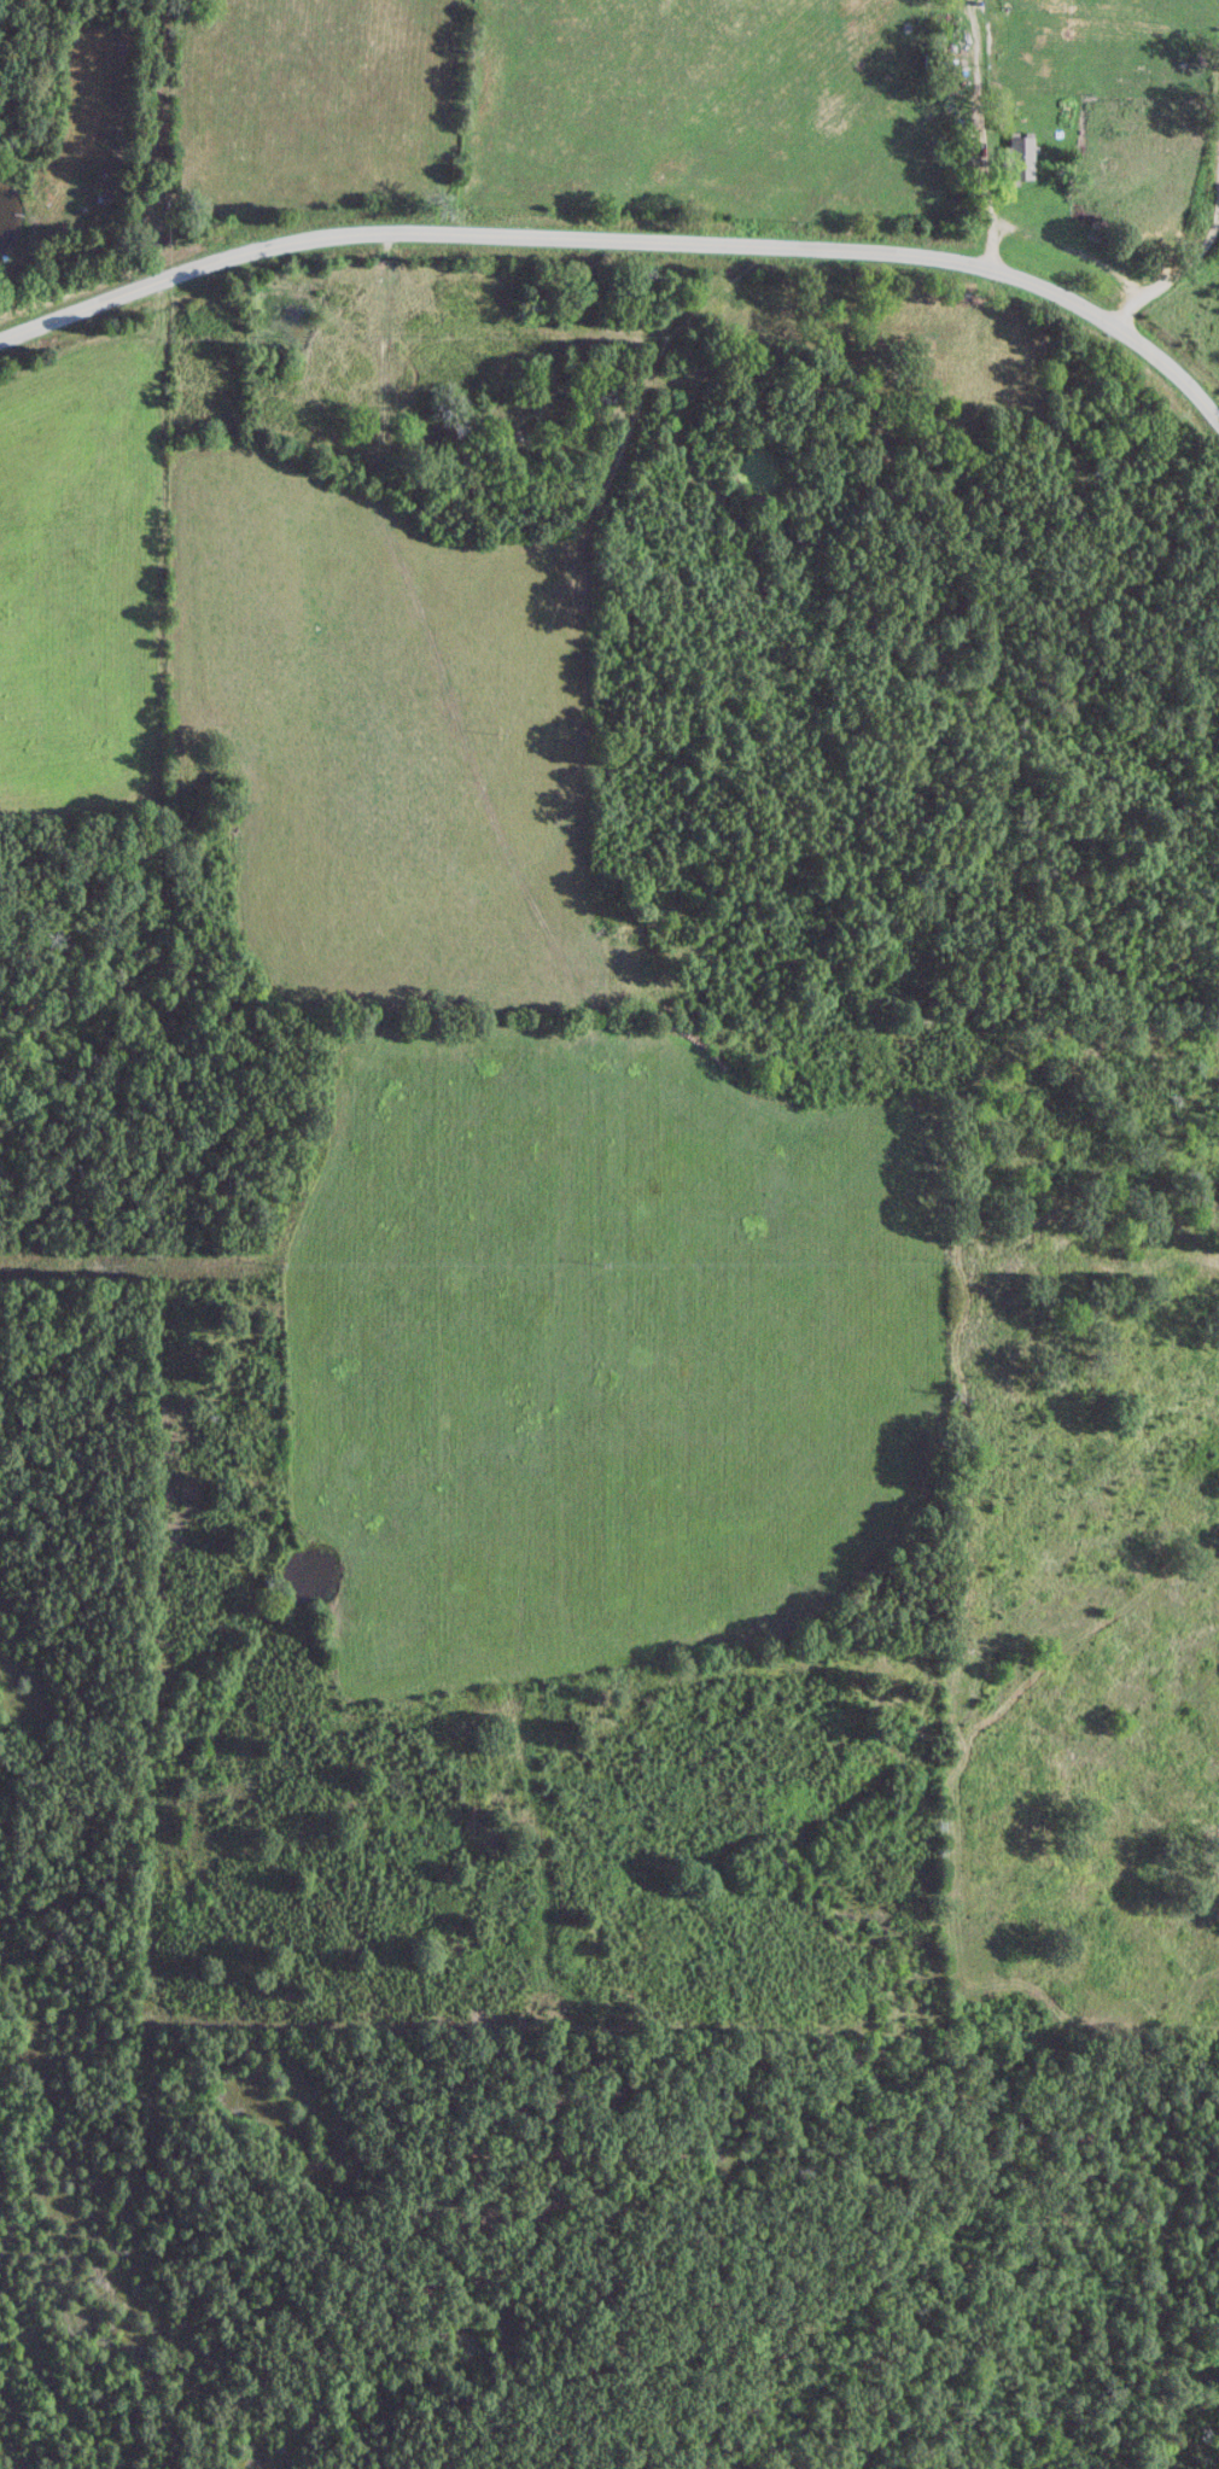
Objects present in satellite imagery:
building: (1013, 156)
road: (655, 252)
road: (1186, 262)

